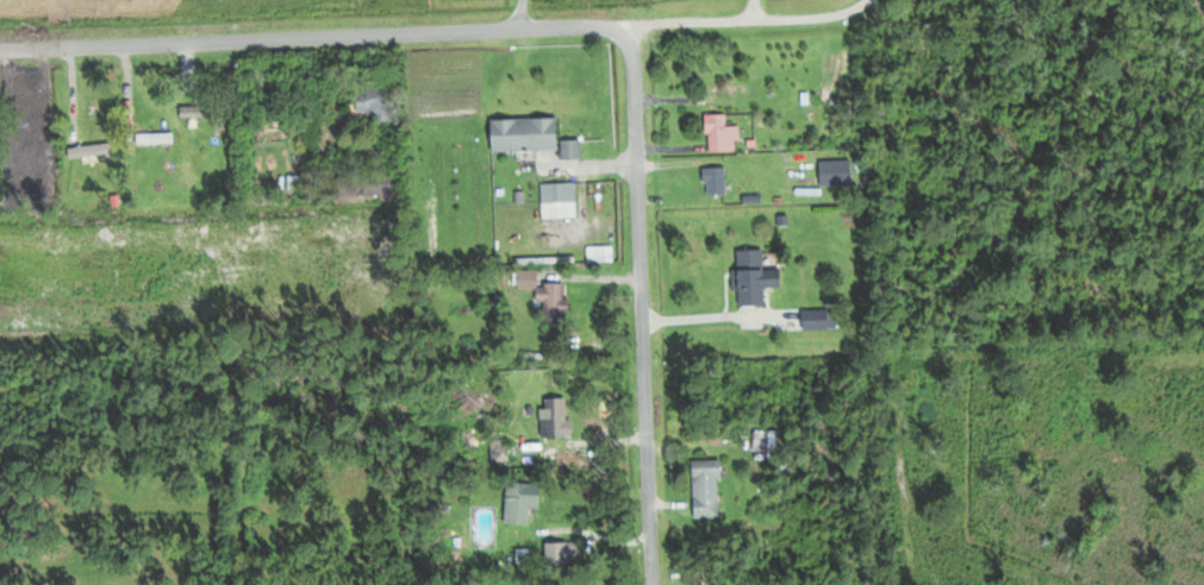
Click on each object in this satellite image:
road: (742, 19)
road: (351, 34)
building: (376, 102)
building: (204, 112)
building: (524, 134)
building: (719, 134)
building: (152, 138)
building: (569, 150)
building: (834, 172)
building: (715, 180)
building: (298, 183)
building: (89, 185)
building: (557, 201)
building: (599, 253)
building: (753, 278)
building: (545, 298)
road: (642, 348)
building: (555, 417)
building: (765, 440)
building: (705, 489)
building: (520, 501)
building: (561, 555)

